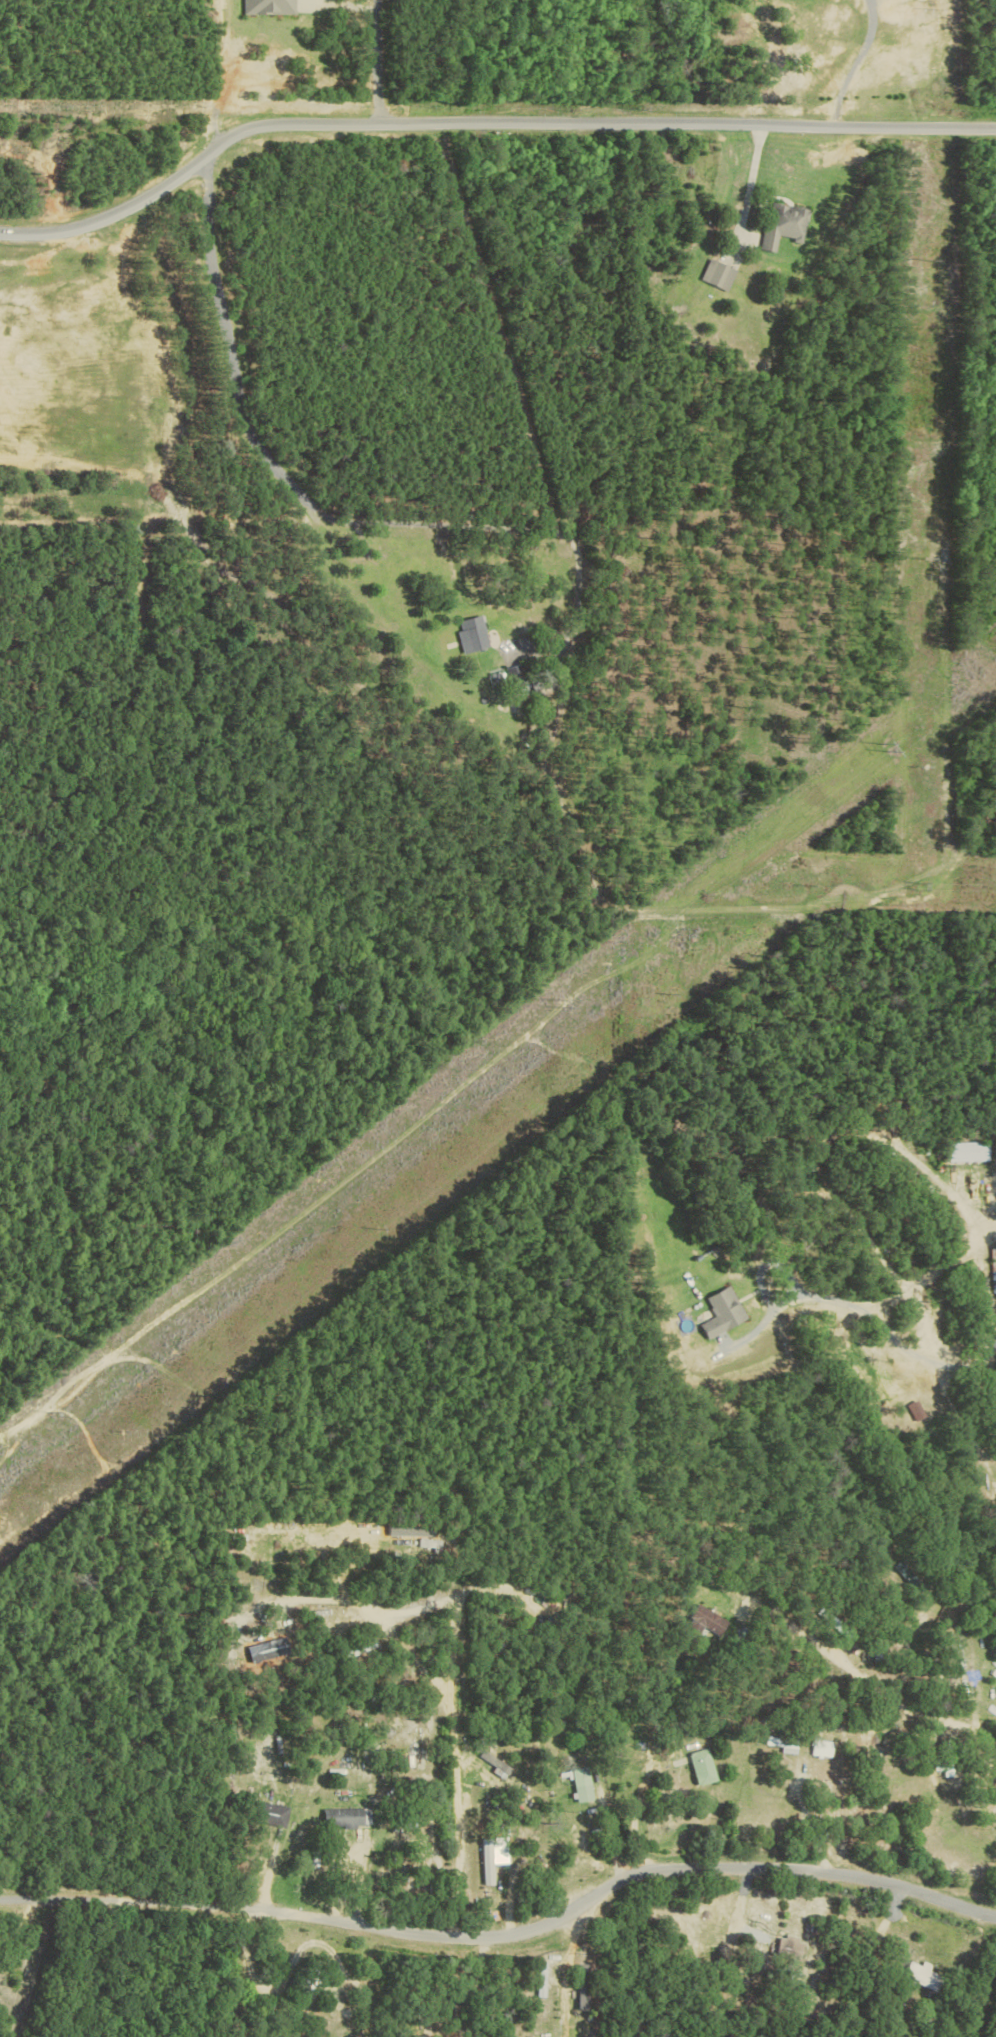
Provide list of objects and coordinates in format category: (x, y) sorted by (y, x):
building: (268, 6)
road: (380, 61)
road: (856, 64)
road: (483, 122)
road: (752, 179)
building: (783, 224)
building: (717, 274)
road: (283, 479)
building: (471, 634)
building: (516, 678)
building: (969, 1151)
building: (724, 1313)
building: (428, 1544)
road: (458, 1595)
building: (705, 1620)
road: (450, 1651)
road: (893, 1699)
building: (782, 1744)
building: (818, 1748)
road: (455, 1755)
building: (496, 1765)
building: (699, 1766)
building: (947, 1768)
building: (579, 1783)
road: (795, 1809)
road: (637, 1810)
building: (270, 1814)
building: (345, 1816)
building: (487, 1859)
road: (507, 1935)
building: (786, 1944)
building: (921, 1976)
building: (538, 1979)
building: (580, 1987)

